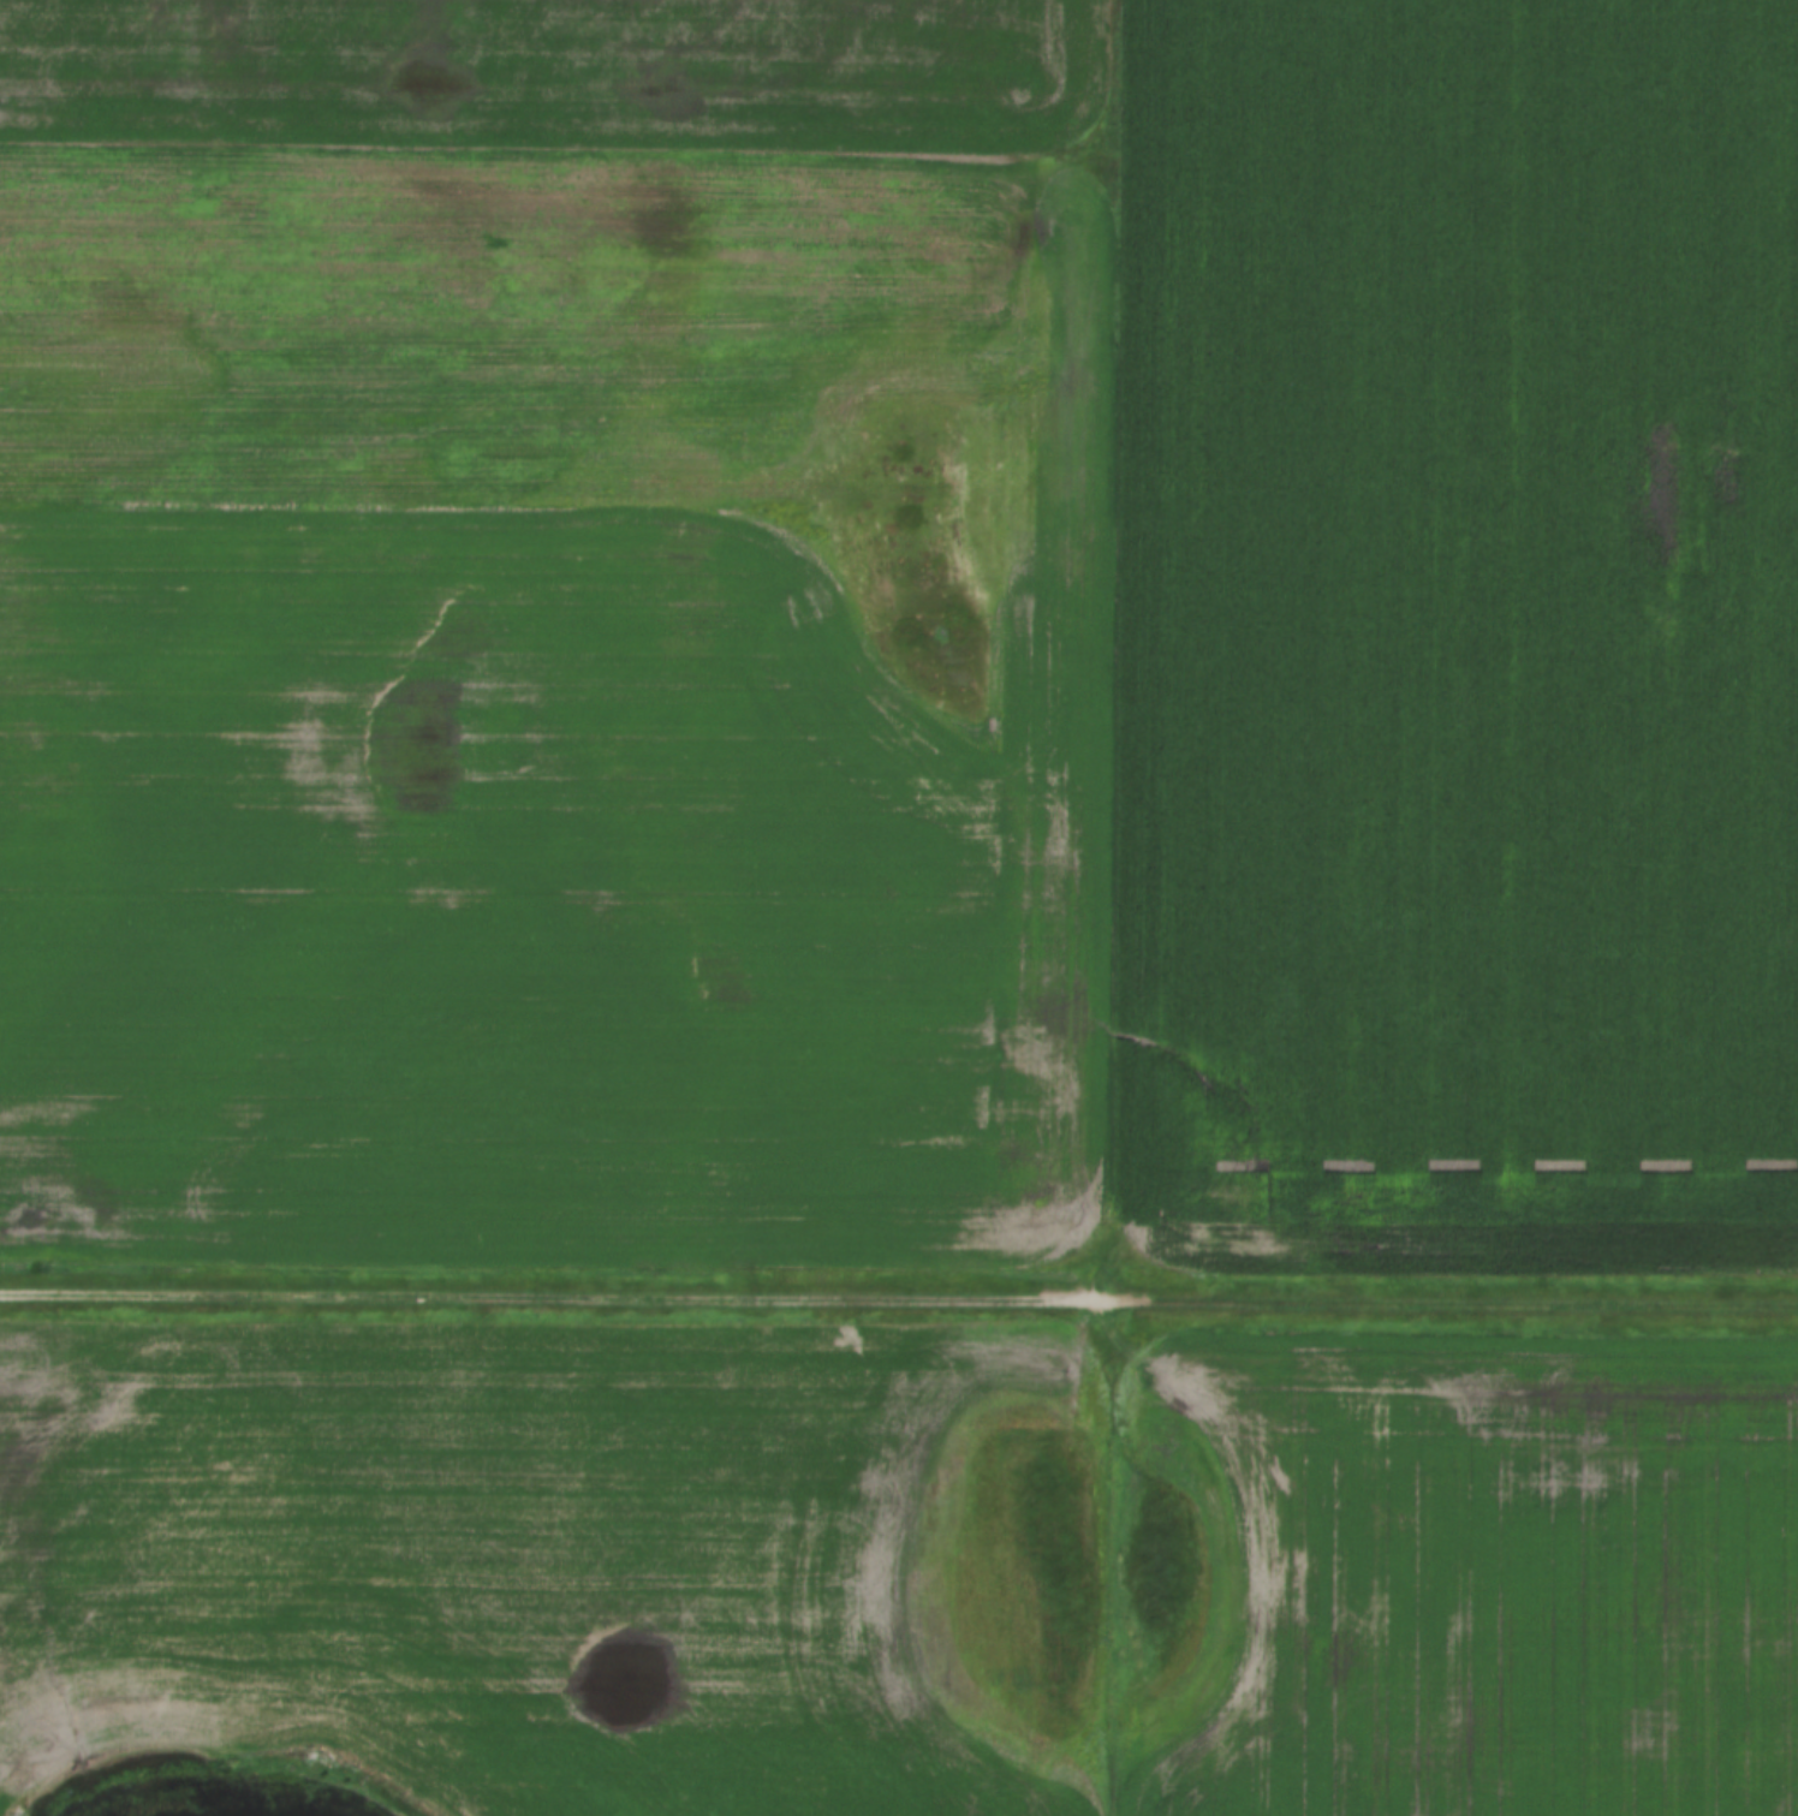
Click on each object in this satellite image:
road: (899, 1303)

